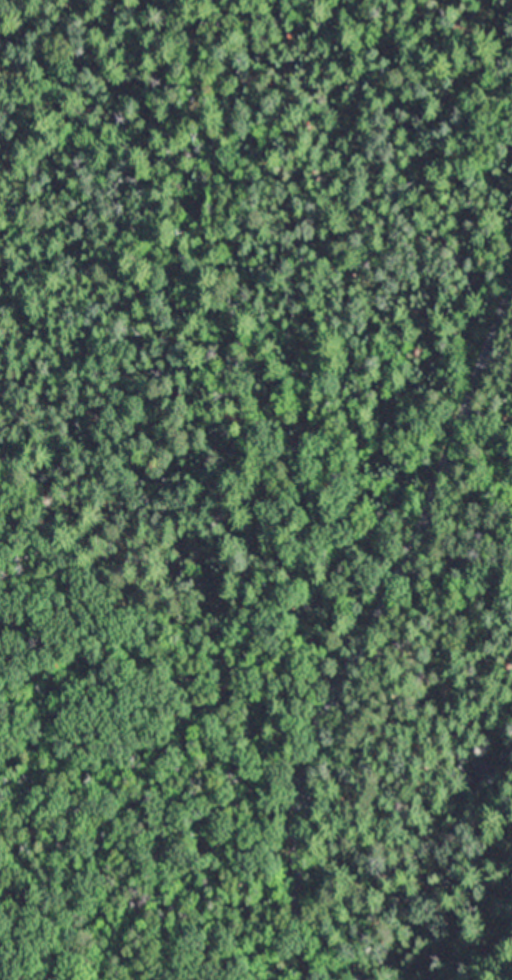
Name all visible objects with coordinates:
road: (371, 637)

